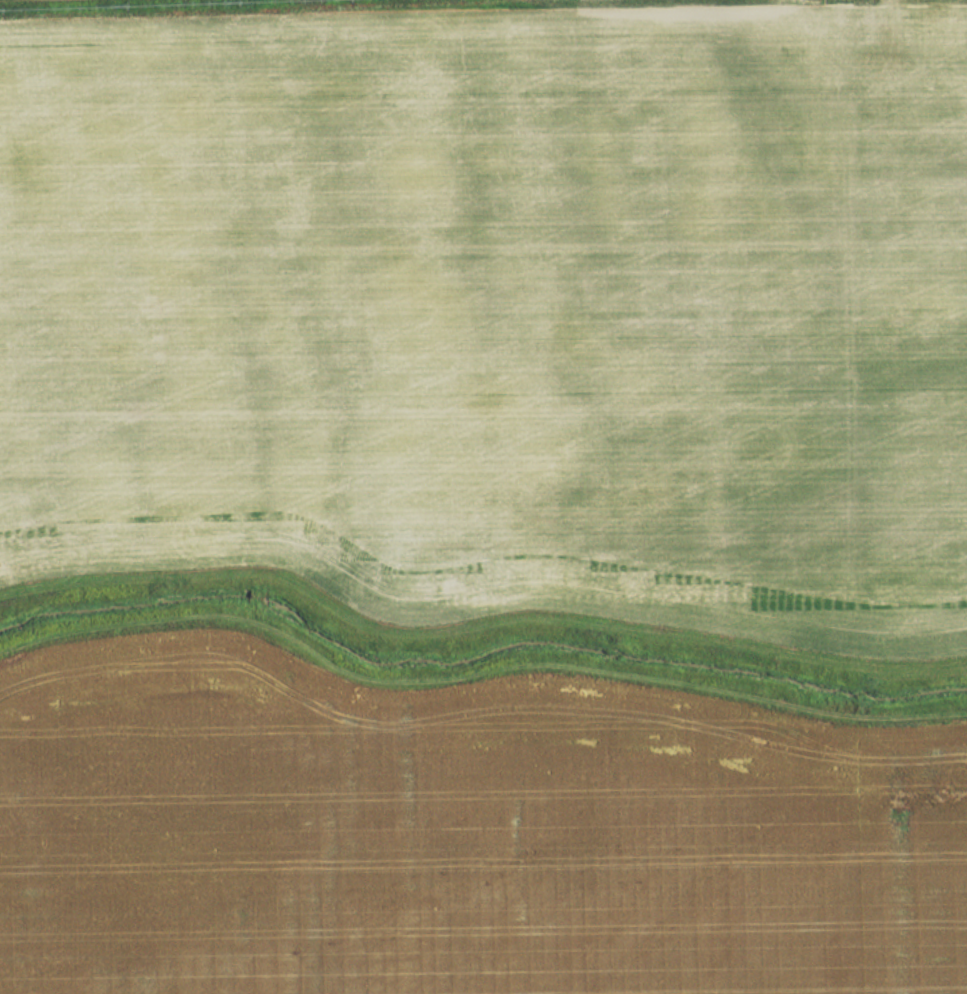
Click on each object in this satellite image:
crop: (496, 304)
crop: (457, 835)

